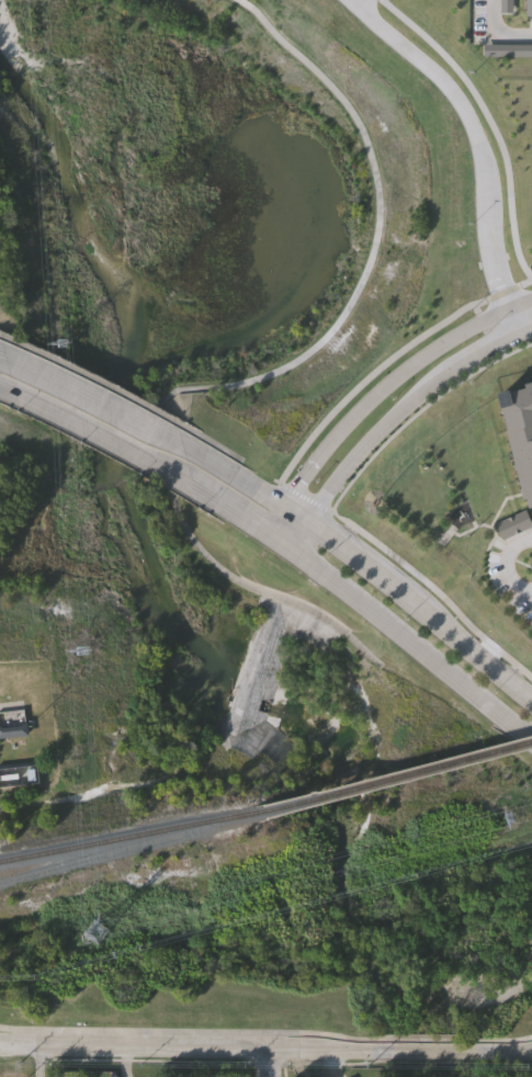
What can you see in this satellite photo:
road: (361, 2)
building: (531, 7)
road: (495, 34)
road: (489, 121)
road: (479, 144)
road: (476, 309)
road: (480, 320)
road: (485, 330)
road: (528, 330)
road: (493, 342)
power tower: (65, 344)
road: (487, 351)
road: (501, 353)
road: (3, 358)
road: (388, 360)
road: (417, 361)
road: (259, 377)
road: (68, 387)
road: (9, 389)
road: (418, 412)
road: (101, 432)
road: (157, 432)
building: (519, 433)
road: (371, 439)
road: (234, 477)
road: (303, 478)
road: (278, 481)
road: (304, 498)
road: (235, 513)
road: (295, 515)
road: (336, 517)
road: (274, 521)
building: (514, 523)
road: (298, 536)
road: (507, 564)
road: (363, 566)
road: (524, 591)
road: (442, 597)
road: (411, 645)
power tower: (83, 653)
road: (476, 656)
building: (14, 729)
railway: (426, 771)
building: (21, 775)
railway: (290, 807)
railway: (292, 808)
power tower: (510, 817)
railway: (129, 837)
railway: (132, 850)
power tower: (98, 936)
road: (194, 1032)
road: (422, 1040)
road: (494, 1040)
road: (194, 1047)
road: (423, 1050)
road: (495, 1051)
road: (38, 1061)
road: (270, 1063)
building: (214, 1076)

